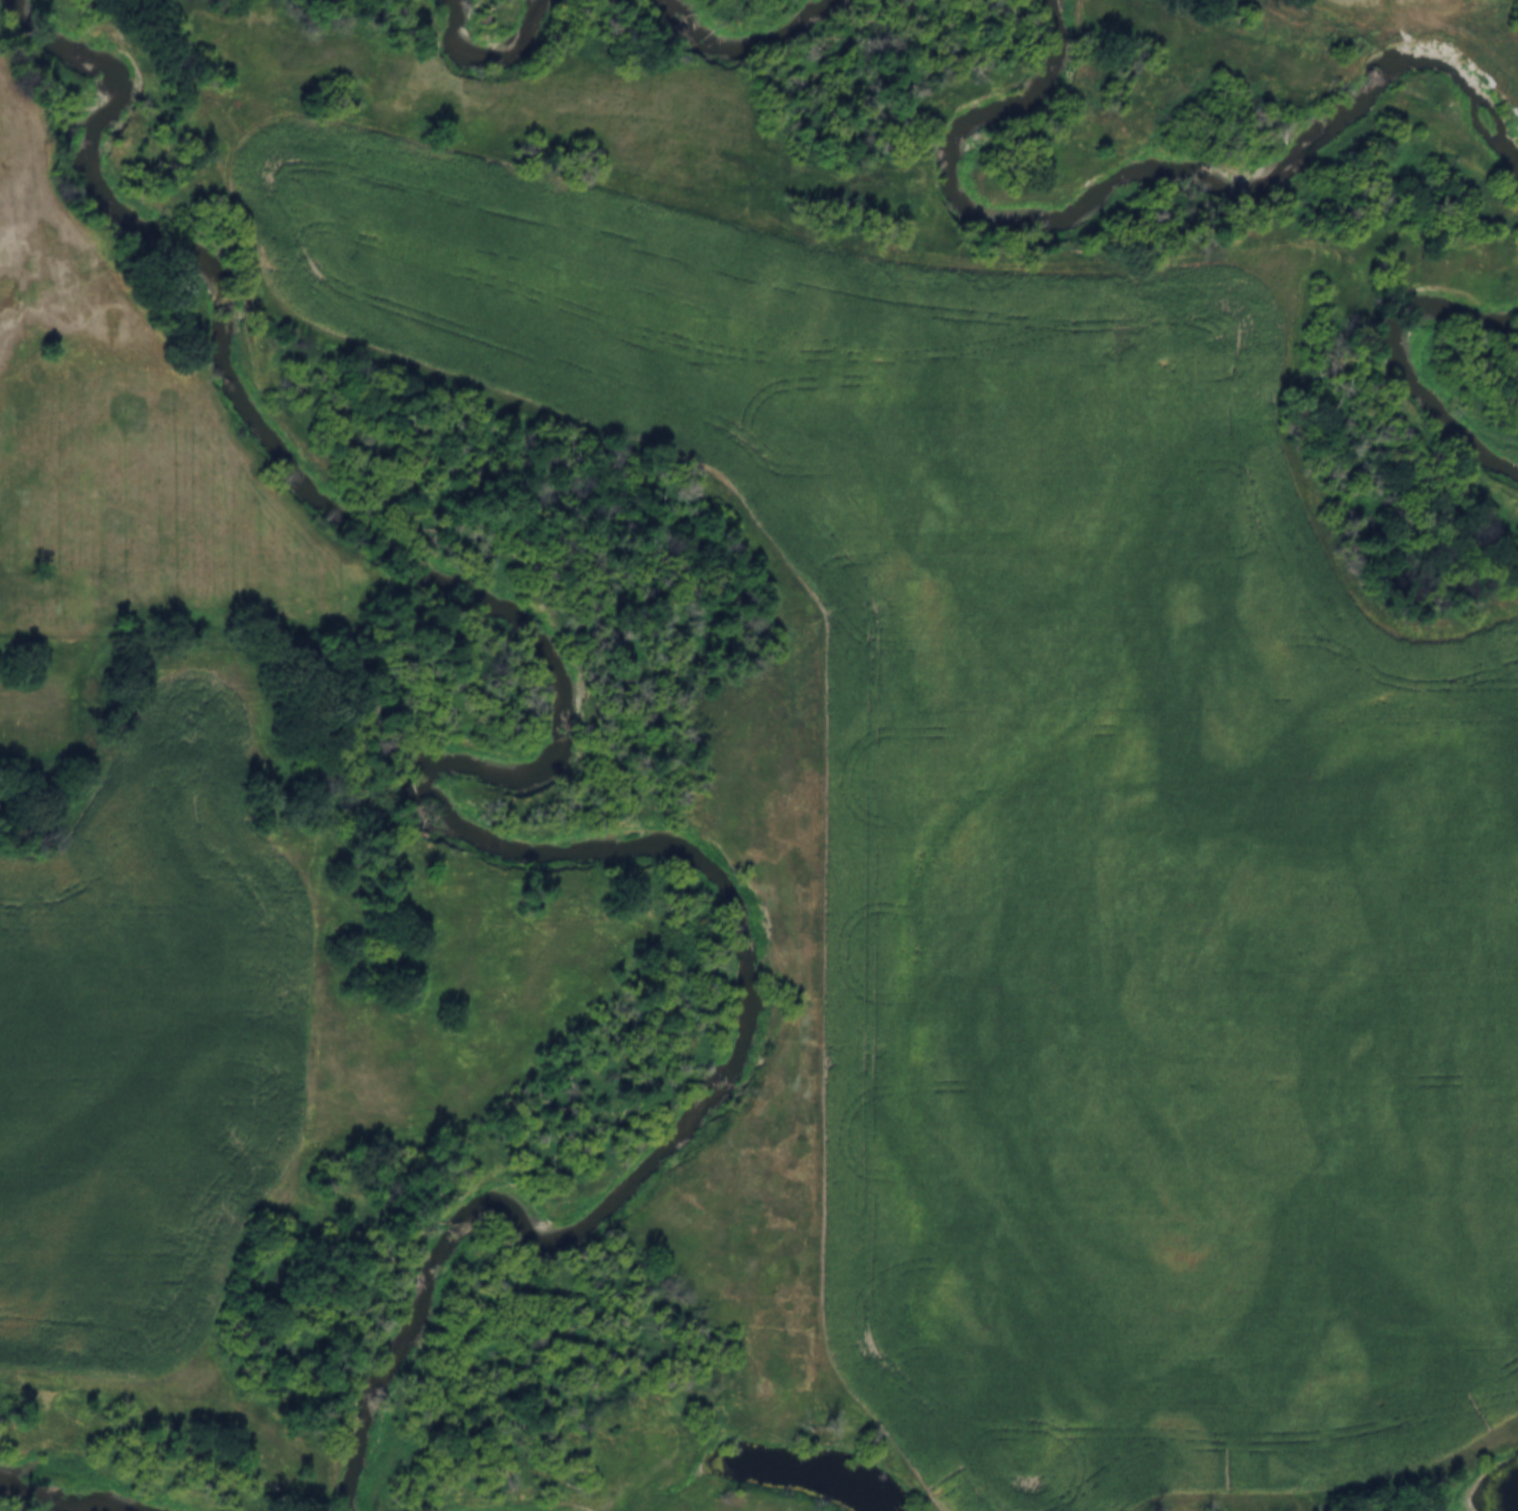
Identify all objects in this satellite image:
river: (752, 36)
river: (500, 56)
river: (111, 58)
river: (1156, 167)
river: (1412, 365)

